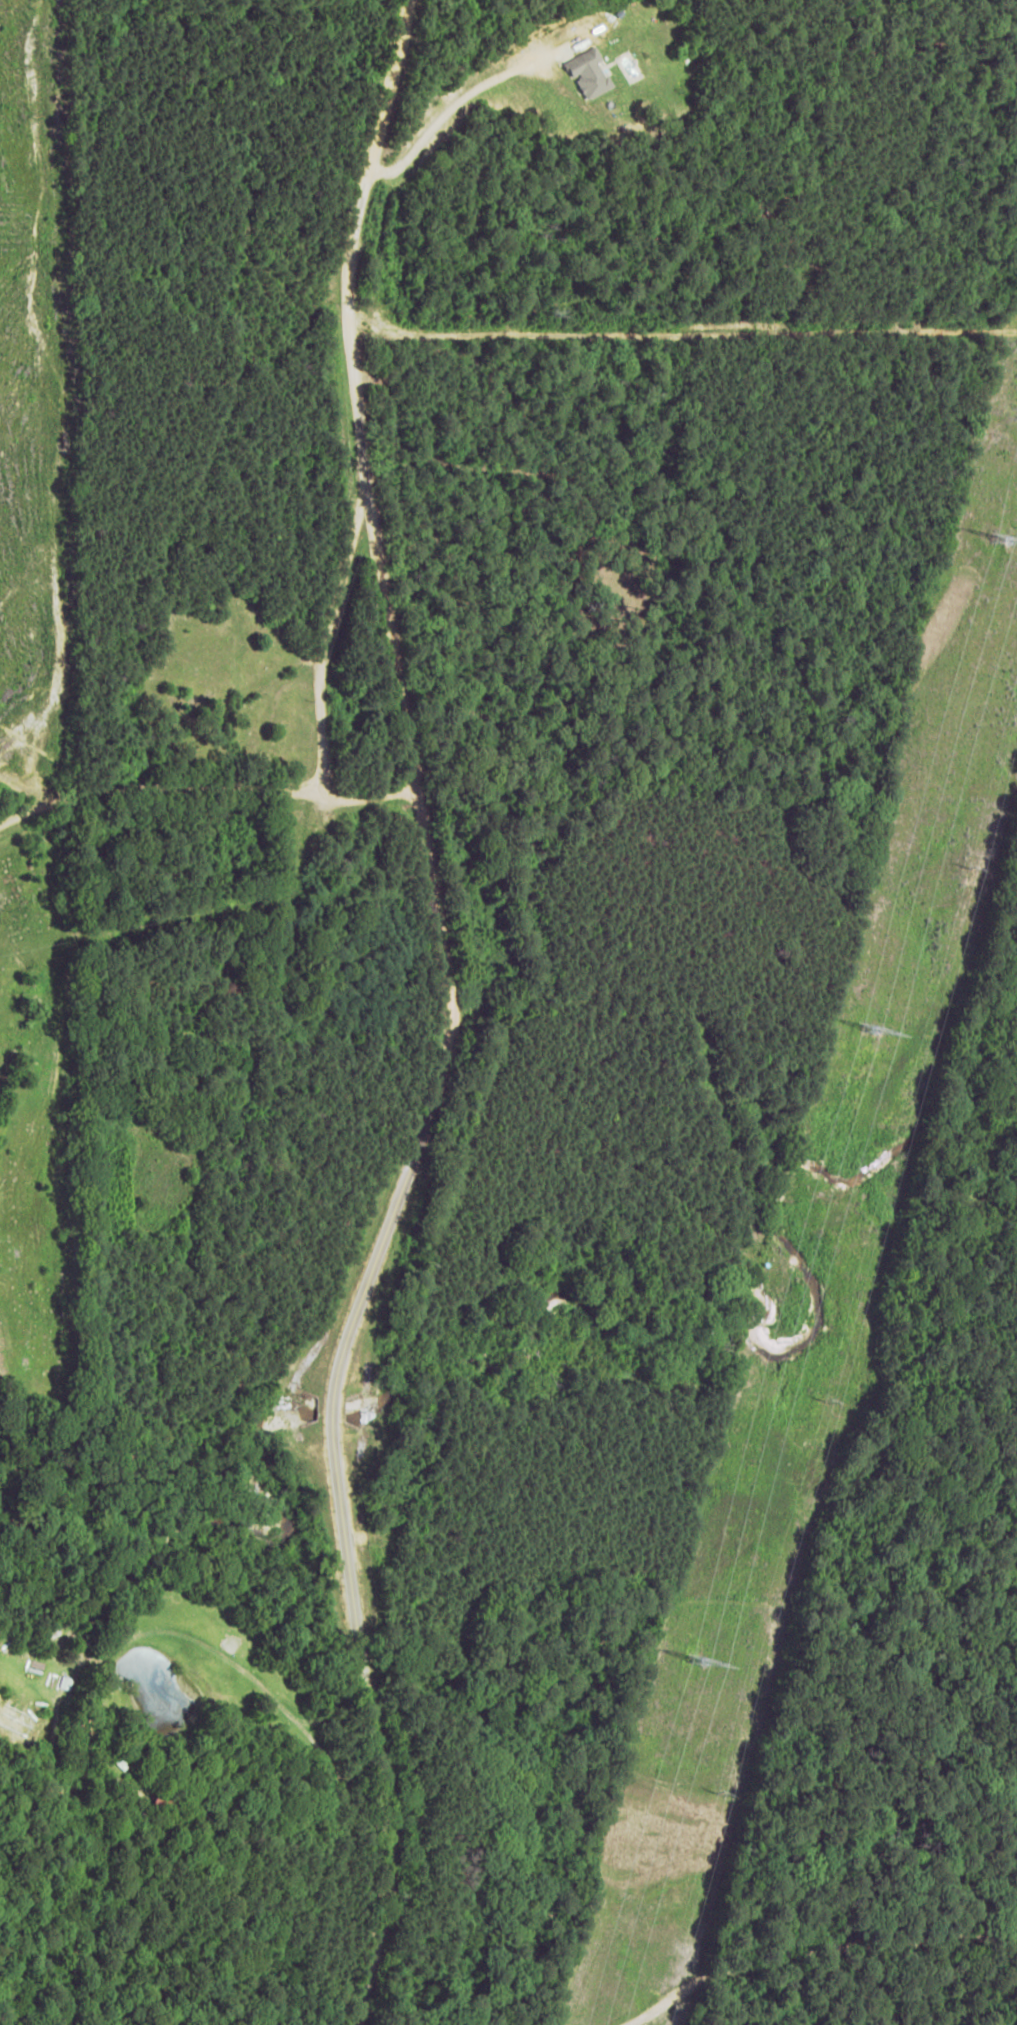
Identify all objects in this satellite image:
building: (591, 75)
power tower: (999, 533)
road: (322, 658)
road: (202, 813)
road: (429, 1020)
power tower: (865, 1030)
power tower: (693, 1664)

